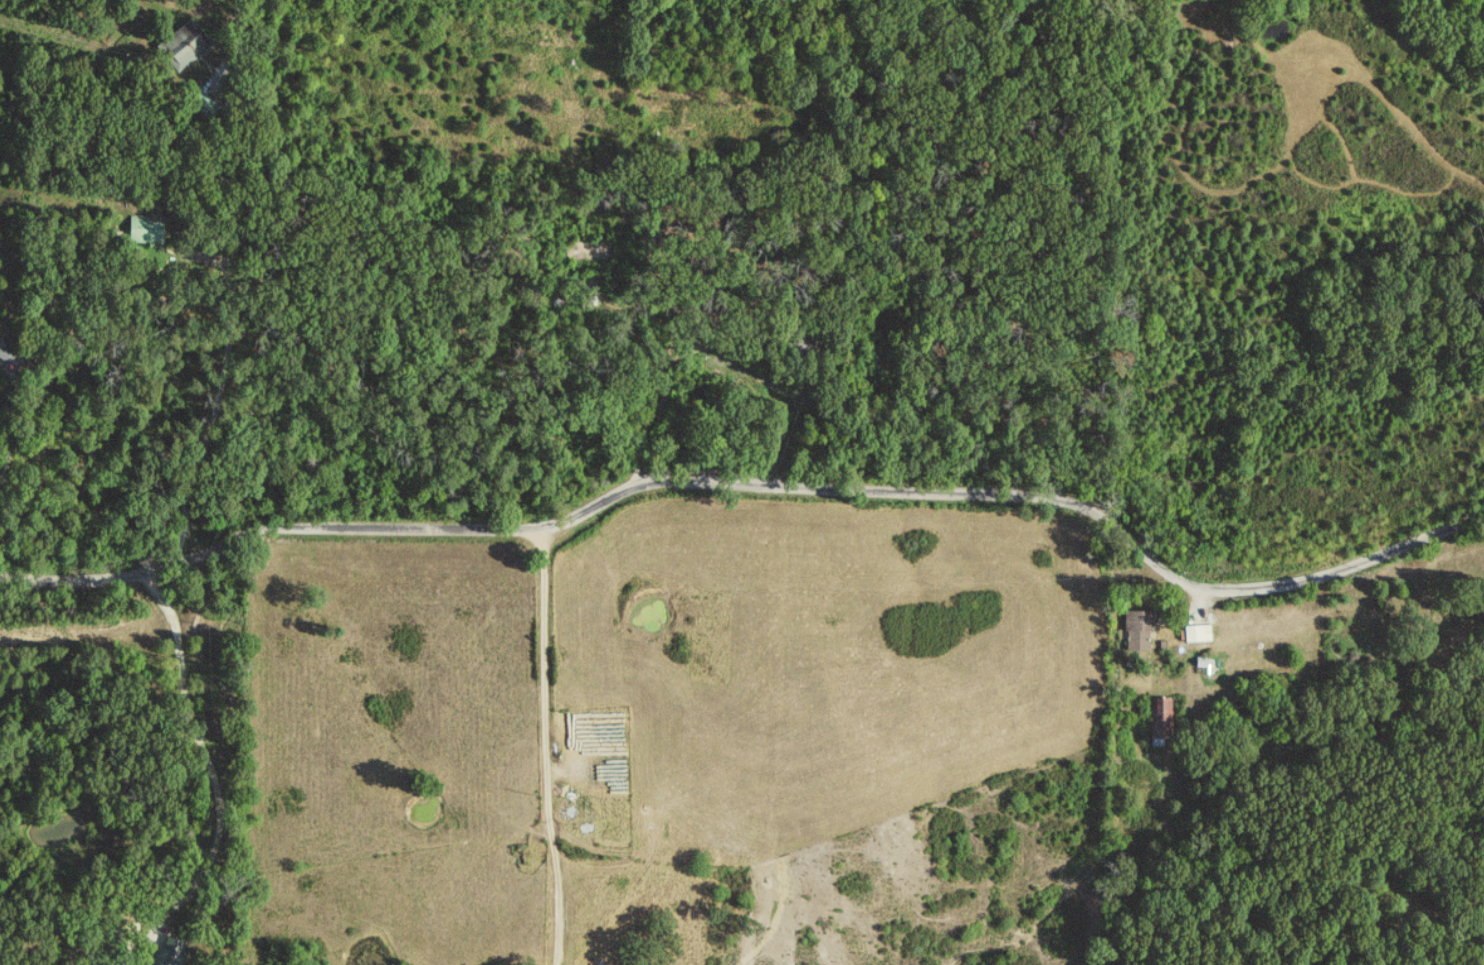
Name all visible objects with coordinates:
building: (183, 47)
road: (237, 48)
building: (201, 105)
building: (145, 230)
building: (10, 356)
road: (224, 376)
road: (665, 399)
road: (899, 399)
road: (9, 402)
road: (749, 485)
building: (1138, 628)
building: (1197, 634)
building: (1164, 717)
road: (550, 746)
road: (206, 760)
building: (159, 956)

